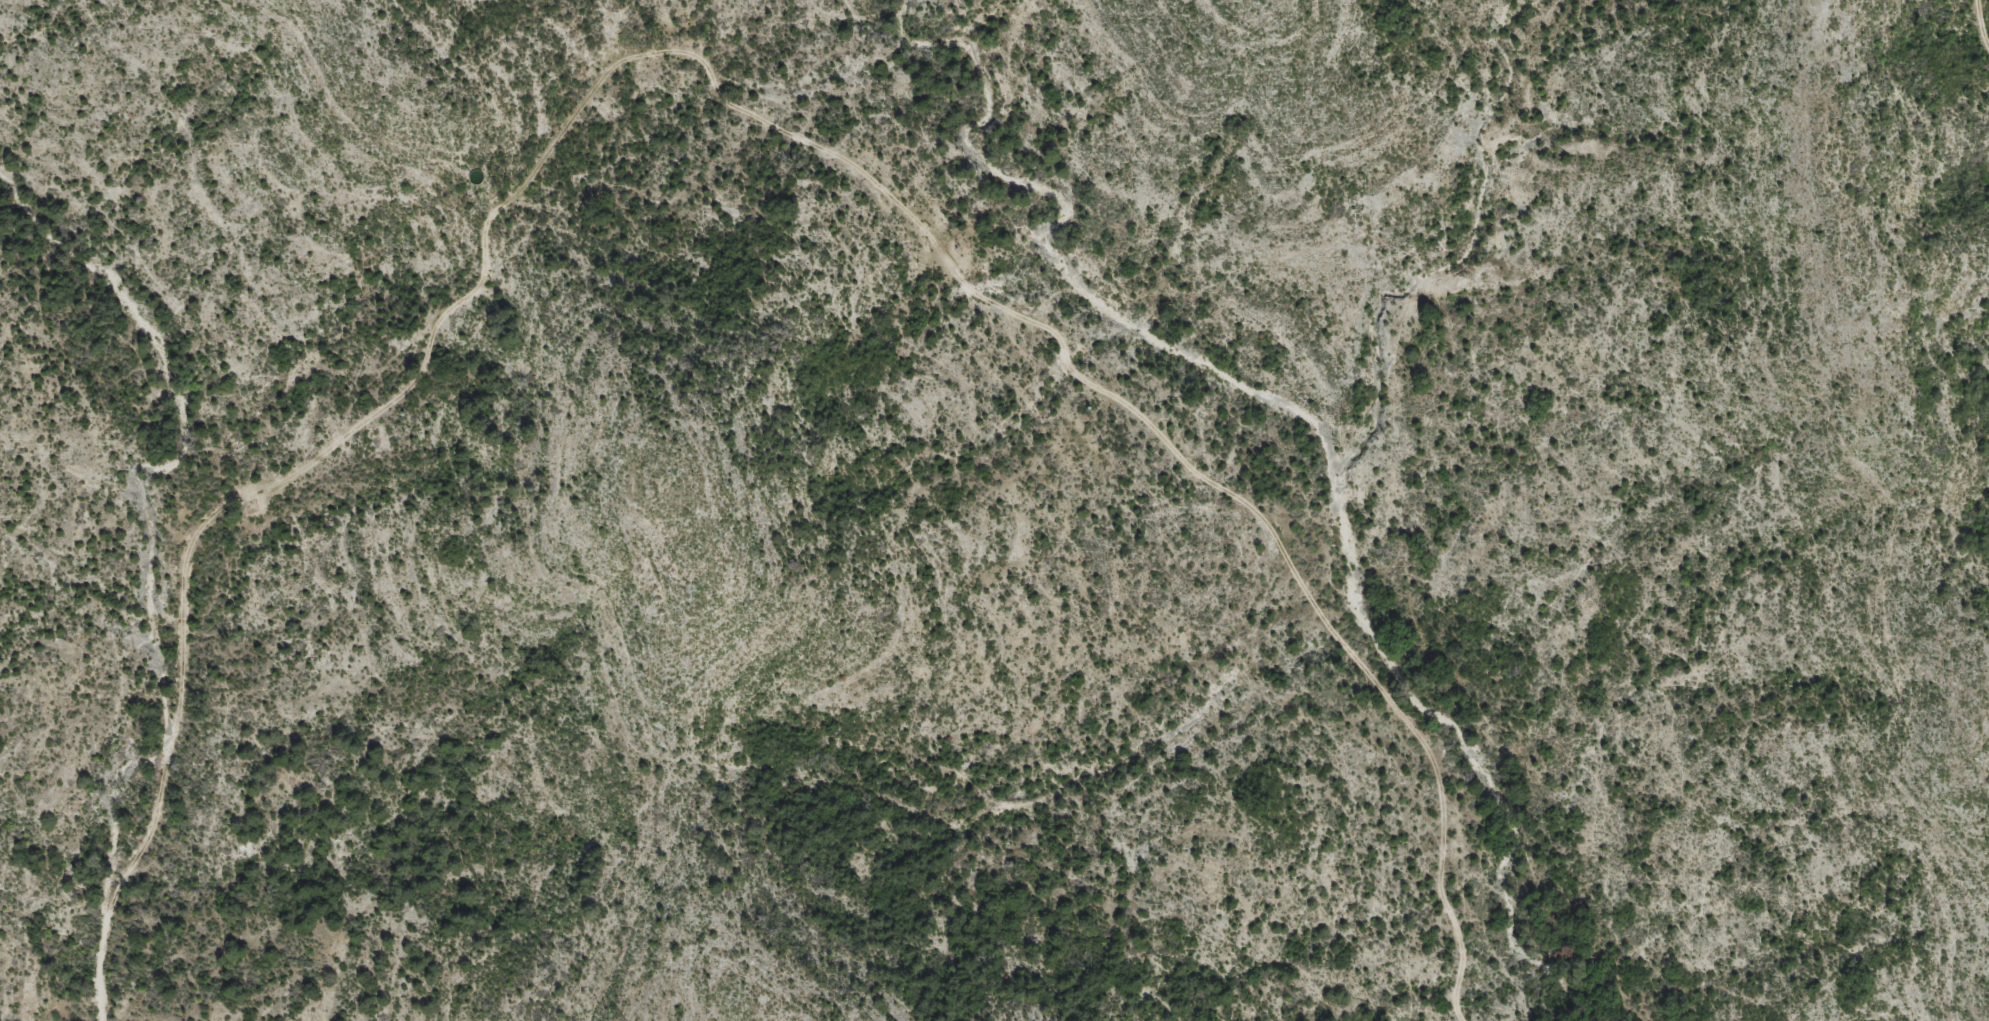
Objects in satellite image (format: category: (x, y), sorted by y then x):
road: (1982, 20)
road: (715, 79)

